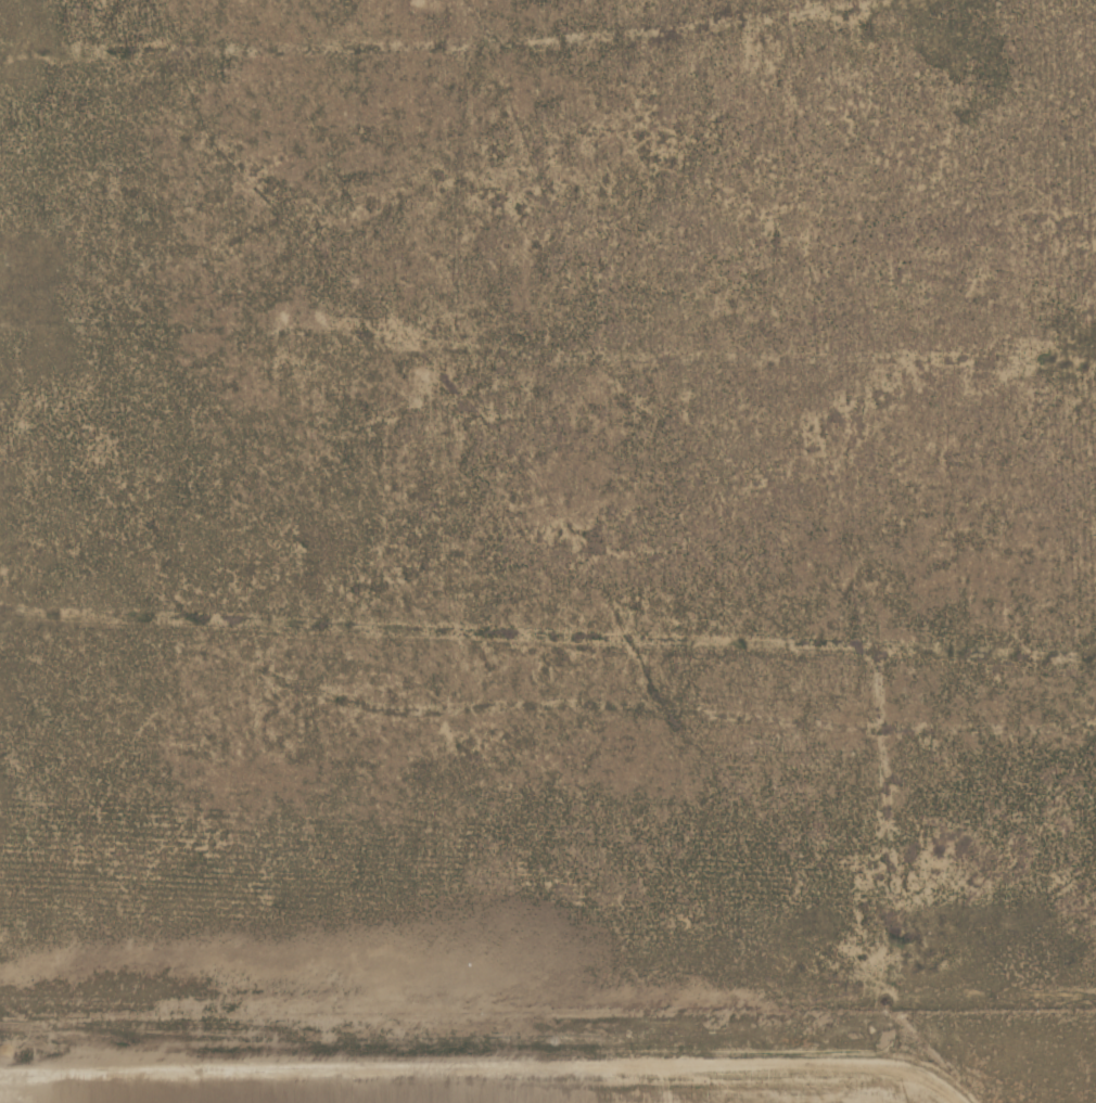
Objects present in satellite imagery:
landfill: (470, 1096)

